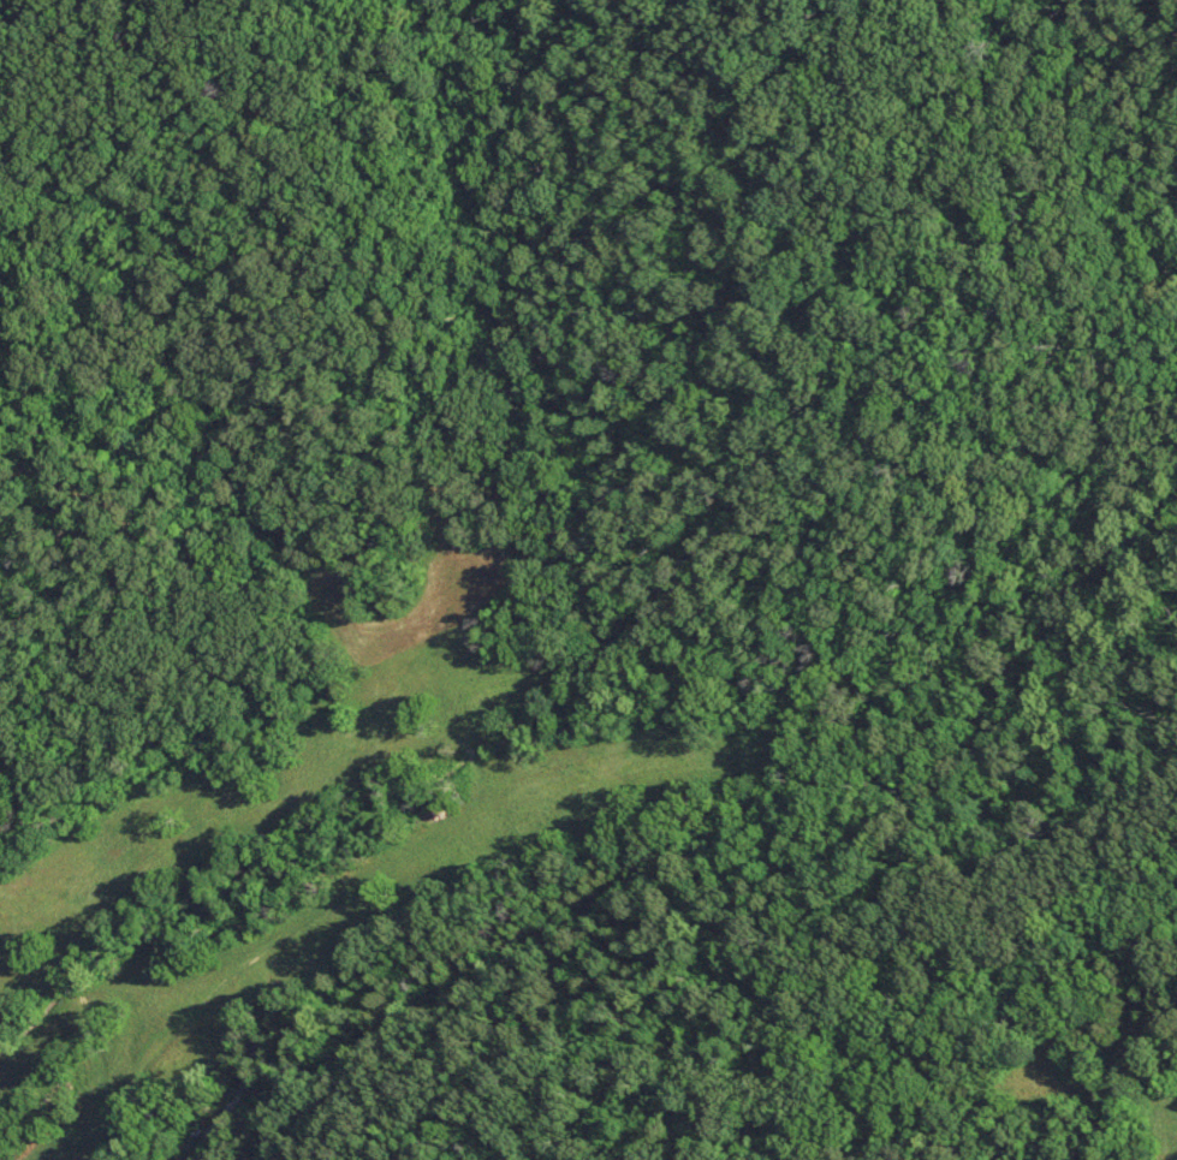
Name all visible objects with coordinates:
road: (221, 1124)

